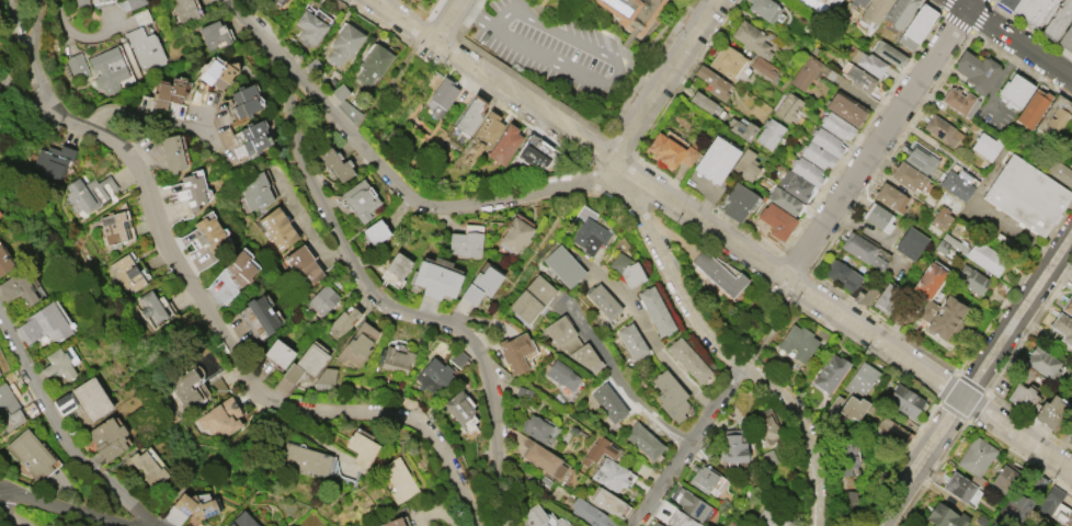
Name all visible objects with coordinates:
building: (82, 3)
building: (129, 3)
building: (858, 3)
building: (278, 4)
road: (971, 5)
building: (823, 8)
building: (765, 9)
building: (1028, 9)
building: (186, 10)
road: (535, 12)
building: (631, 12)
building: (873, 14)
building: (898, 14)
building: (1058, 20)
road: (452, 23)
road: (14, 25)
building: (313, 25)
building: (916, 27)
building: (215, 35)
road: (564, 35)
building: (751, 37)
road: (1011, 39)
building: (1067, 41)
building: (345, 44)
road: (14, 46)
road: (534, 48)
building: (145, 49)
building: (890, 54)
parking lot: (557, 56)
building: (727, 61)
building: (869, 62)
building: (77, 65)
building: (375, 65)
building: (109, 67)
building: (763, 67)
building: (977, 70)
building: (803, 72)
building: (217, 73)
road: (662, 79)
building: (860, 79)
building: (712, 81)
building: (1013, 90)
building: (342, 92)
building: (169, 93)
building: (441, 95)
building: (246, 101)
building: (959, 101)
building: (702, 102)
building: (788, 107)
building: (1031, 107)
building: (845, 108)
building: (470, 114)
building: (721, 114)
road: (148, 117)
building: (1056, 117)
building: (836, 126)
building: (742, 129)
building: (940, 129)
building: (769, 133)
building: (483, 136)
building: (254, 137)
road: (582, 140)
building: (504, 144)
road: (875, 144)
building: (984, 146)
building: (822, 148)
building: (671, 149)
building: (535, 152)
building: (172, 153)
building: (919, 158)
building: (715, 159)
building: (54, 160)
building: (335, 163)
building: (745, 167)
building: (807, 171)
building: (1061, 172)
building: (909, 176)
building: (794, 184)
building: (955, 185)
road: (554, 187)
building: (192, 191)
building: (255, 191)
building: (85, 193)
building: (1027, 195)
building: (890, 197)
building: (361, 199)
building: (784, 201)
building: (738, 202)
building: (879, 217)
building: (940, 217)
building: (777, 220)
building: (278, 228)
building: (114, 229)
building: (376, 231)
building: (208, 233)
building: (516, 235)
building: (589, 235)
building: (1003, 239)
building: (955, 242)
building: (466, 243)
building: (911, 243)
building: (940, 245)
building: (862, 251)
building: (985, 258)
building: (4, 262)
building: (304, 265)
building: (398, 265)
building: (562, 265)
building: (239, 266)
building: (626, 268)
building: (129, 272)
building: (719, 273)
building: (842, 275)
road: (362, 278)
building: (970, 278)
building: (436, 279)
building: (927, 279)
building: (481, 285)
building: (18, 289)
building: (864, 294)
building: (532, 298)
building: (888, 298)
building: (323, 299)
building: (602, 300)
building: (1068, 306)
building: (152, 307)
building: (655, 310)
road: (206, 312)
building: (263, 313)
road: (779, 315)
road: (1017, 315)
building: (940, 316)
building: (342, 323)
building: (43, 324)
building: (1063, 328)
building: (560, 330)
road: (646, 330)
building: (631, 340)
building: (798, 341)
building: (356, 343)
building: (278, 353)
building: (516, 353)
building: (584, 355)
building: (457, 357)
building: (311, 358)
building: (394, 358)
building: (687, 358)
building: (1042, 363)
building: (58, 364)
building: (1024, 370)
building: (293, 373)
building: (830, 373)
building: (0, 375)
building: (433, 375)
building: (562, 375)
road: (932, 377)
building: (326, 378)
road: (617, 378)
building: (860, 378)
road: (539, 384)
building: (185, 388)
building: (523, 391)
building: (670, 395)
building: (91, 398)
building: (1022, 398)
building: (904, 400)
building: (608, 401)
building: (62, 402)
building: (833, 405)
building: (457, 407)
building: (853, 407)
building: (13, 409)
building: (1050, 411)
building: (223, 418)
building: (534, 426)
building: (893, 428)
building: (765, 430)
road: (60, 434)
road: (801, 434)
building: (109, 438)
building: (1071, 439)
building: (645, 441)
road: (685, 444)
building: (734, 445)
building: (362, 448)
building: (596, 450)
building: (845, 453)
building: (32, 454)
building: (305, 458)
building: (544, 459)
building: (976, 459)
building: (769, 460)
road: (921, 461)
building: (148, 468)
building: (609, 473)
building: (706, 478)
building: (1003, 478)
building: (399, 479)
building: (958, 487)
building: (848, 495)
building: (1023, 501)
building: (1049, 501)
building: (608, 502)
building: (693, 505)
road: (70, 506)
building: (195, 506)
building: (591, 513)
building: (535, 516)
building: (944, 516)
road: (10, 518)
building: (772, 518)
building: (680, 519)
building: (1063, 519)
building: (243, 521)
building: (392, 522)
building: (559, 523)
building: (577, 525)
building: (660, 525)
building: (735, 525)

